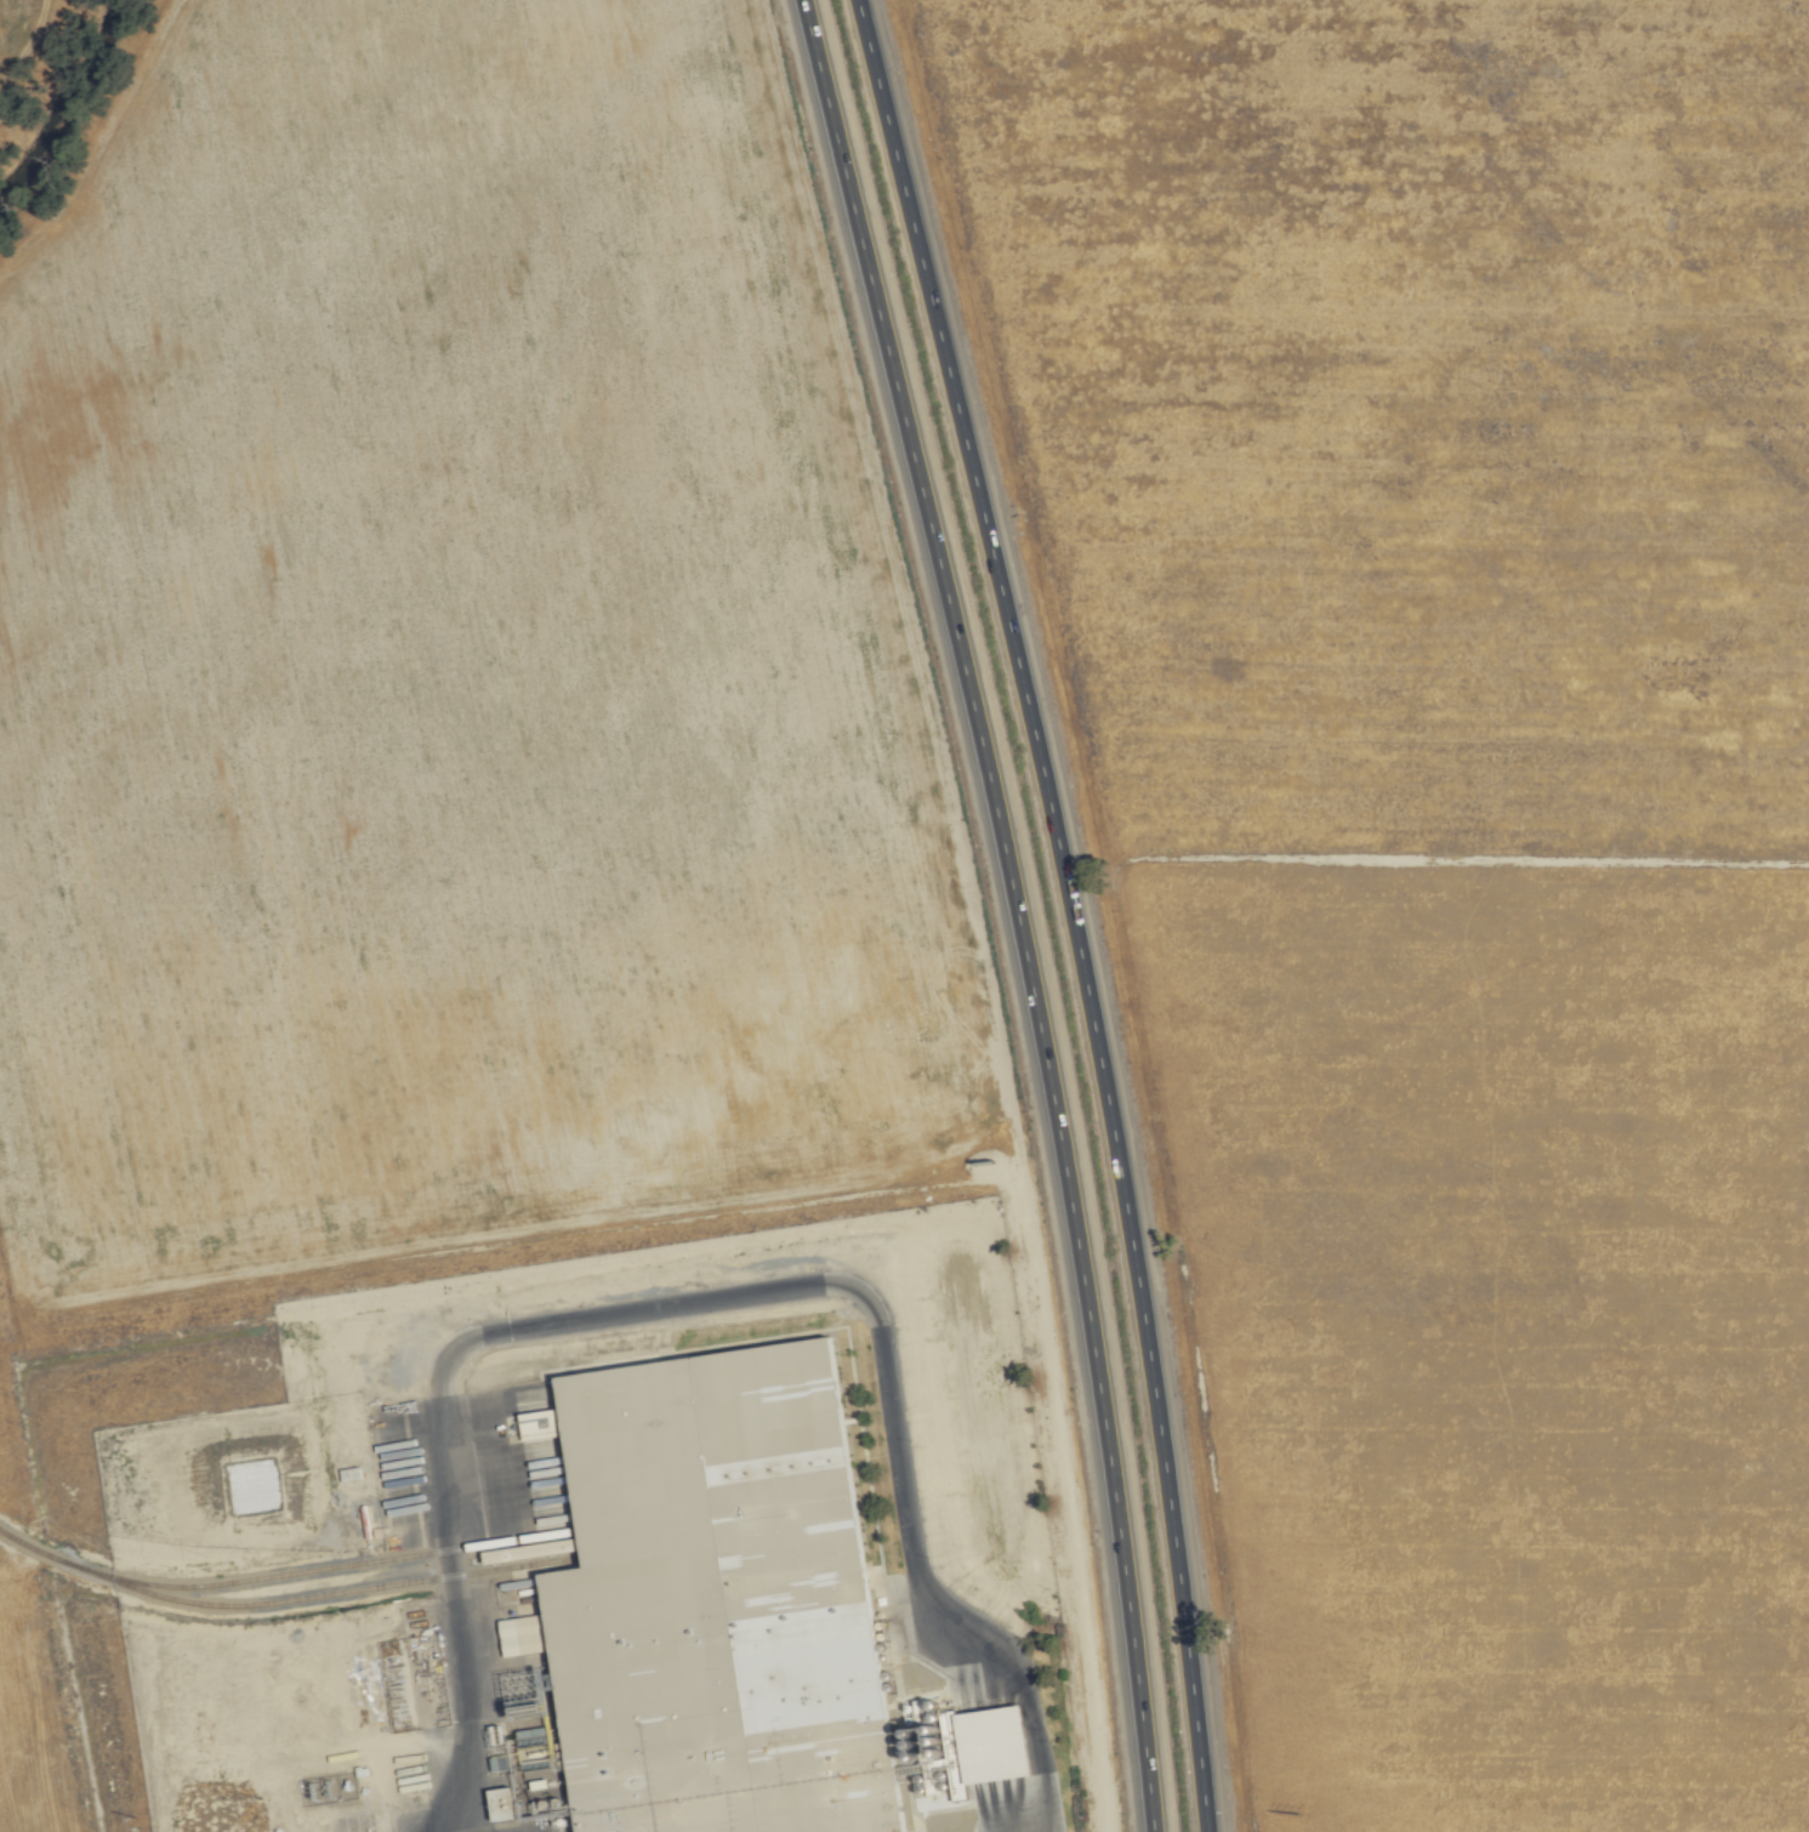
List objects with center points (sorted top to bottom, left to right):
crop: (1415, 857)
road: (1432, 863)
road: (1070, 908)
road: (1016, 909)
road: (715, 1299)
railway: (331, 1569)
railway: (278, 1601)
building: (716, 1605)
building: (989, 1745)

